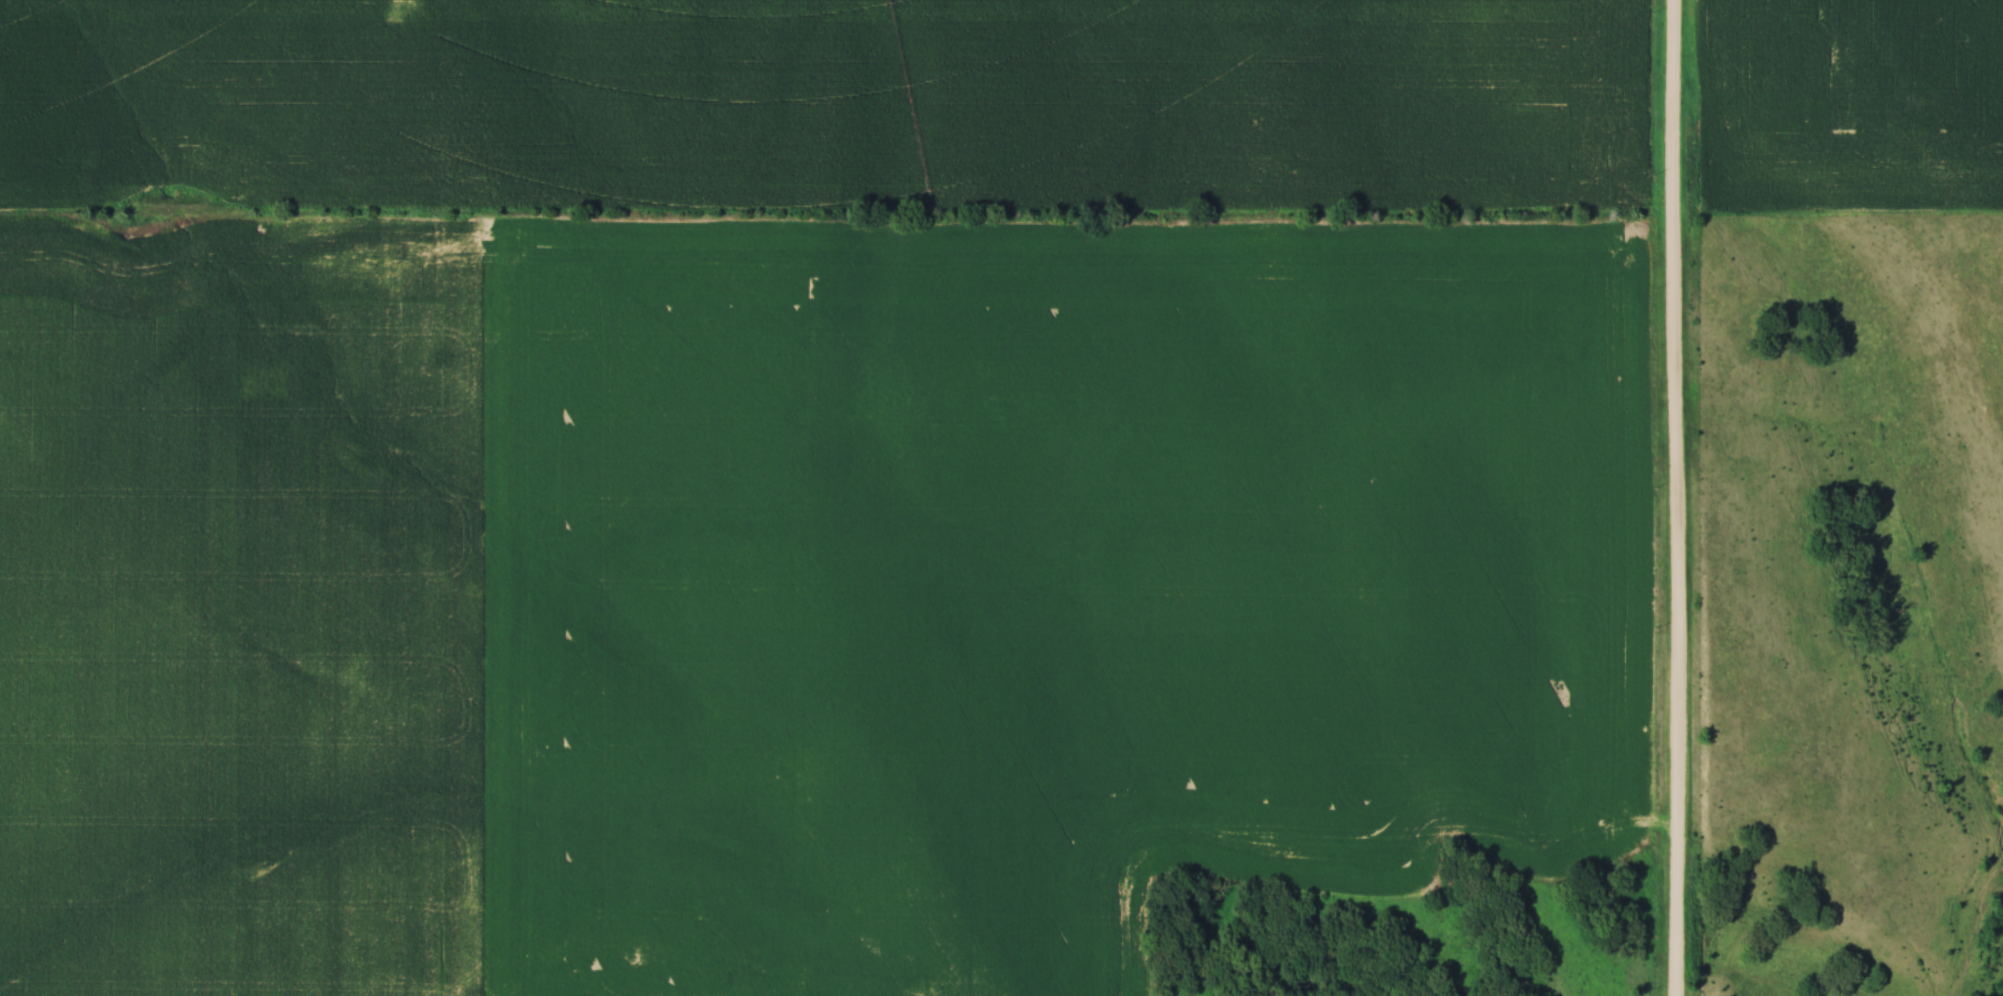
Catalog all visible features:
road: (1680, 497)

